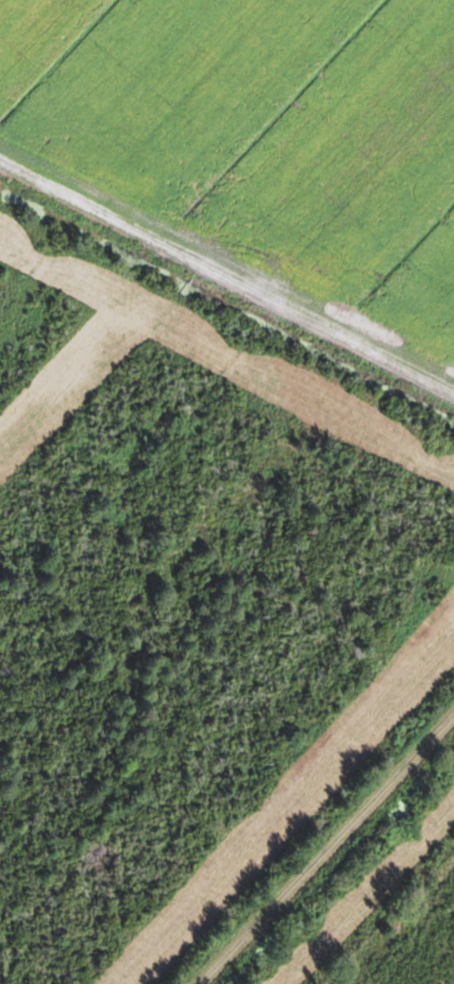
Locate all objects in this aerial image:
crop: (259, 142)
road: (227, 283)
road: (325, 848)

